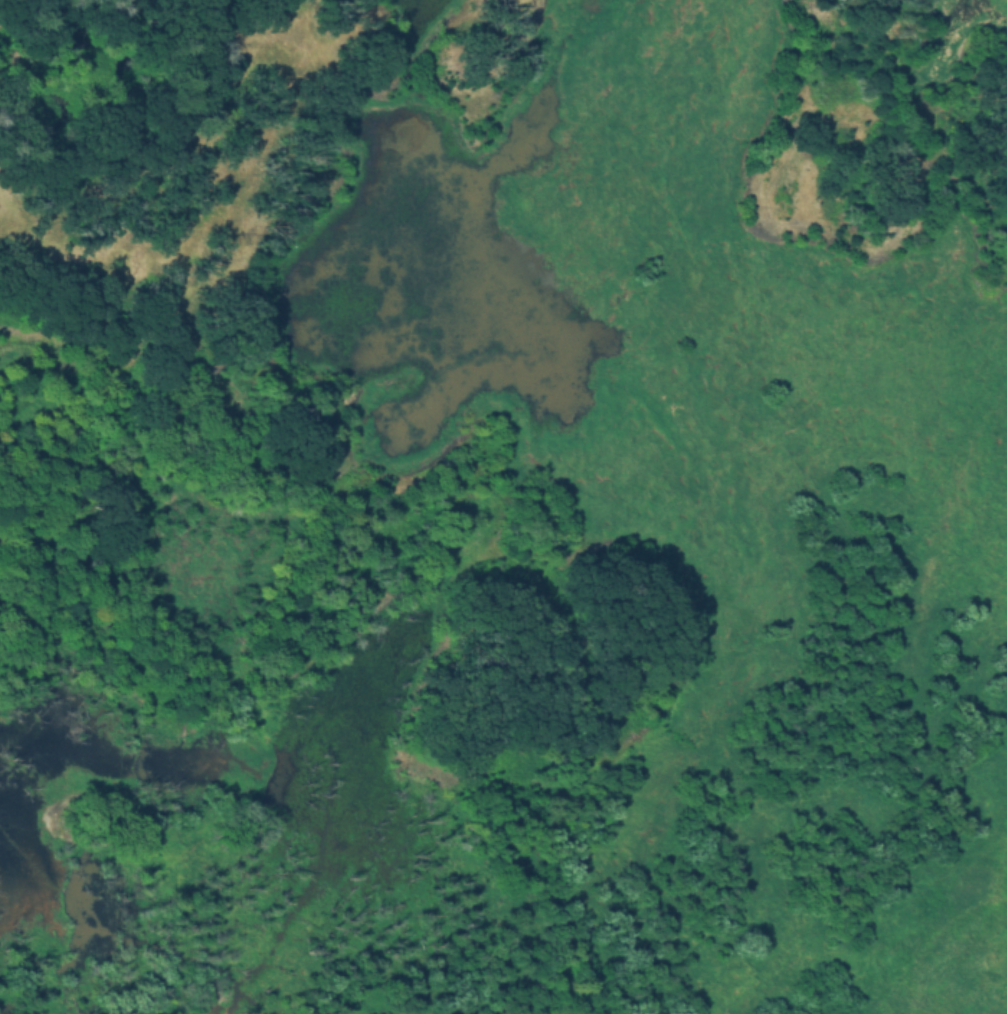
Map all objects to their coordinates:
road: (937, 138)
road: (764, 211)

